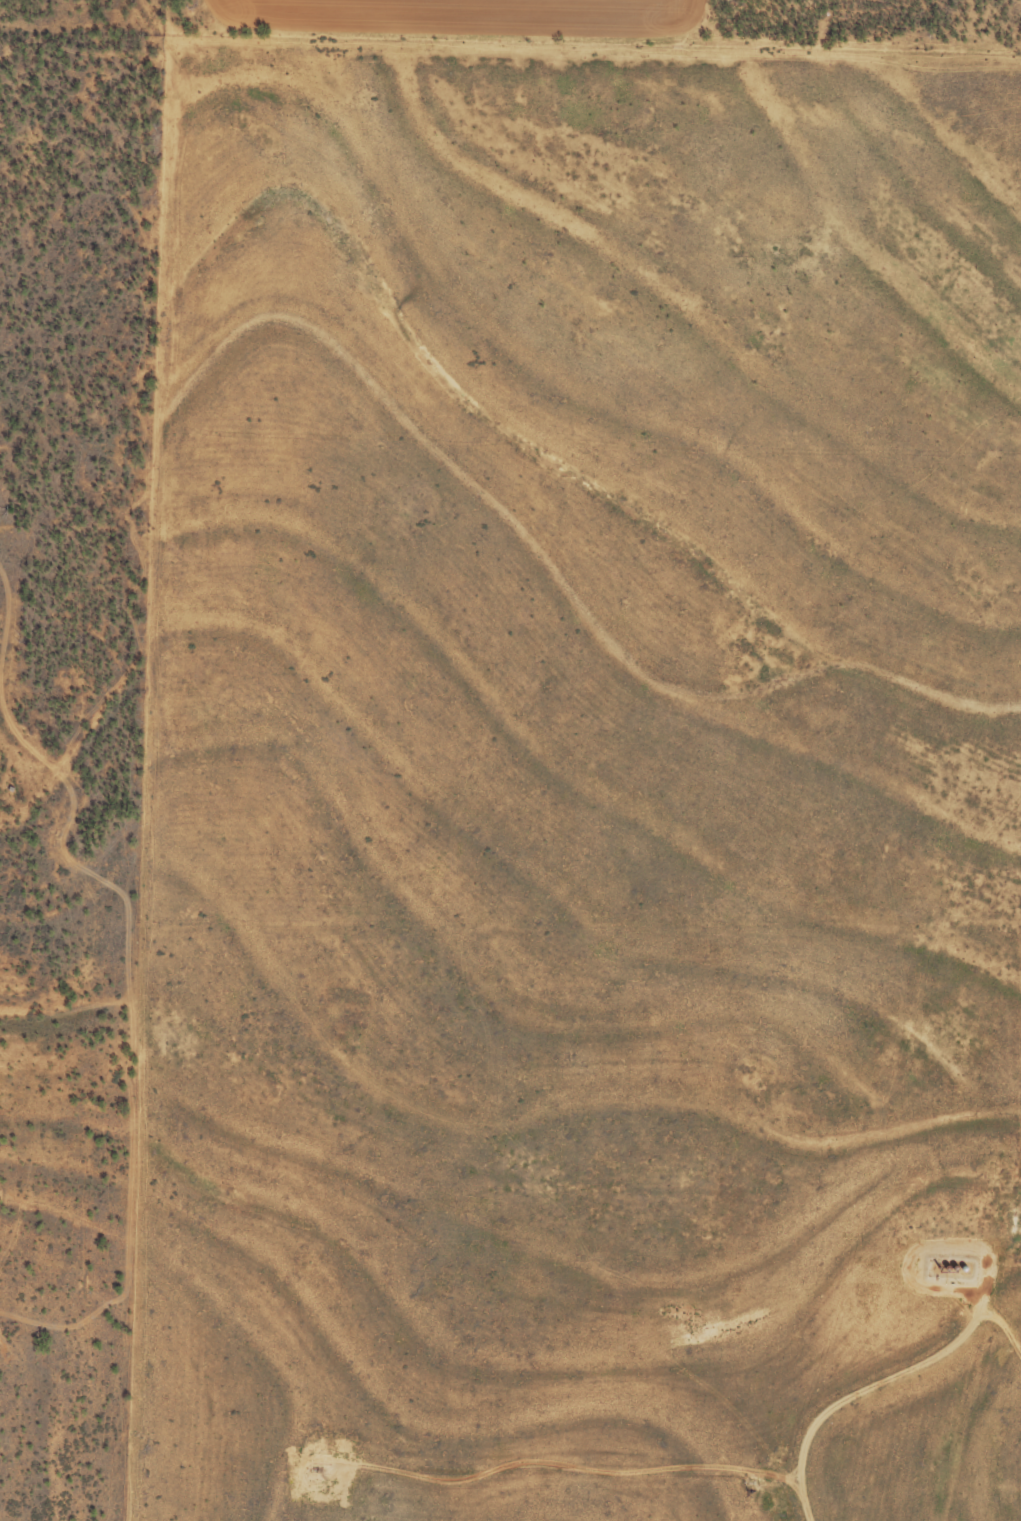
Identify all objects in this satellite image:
road: (835, 1422)

